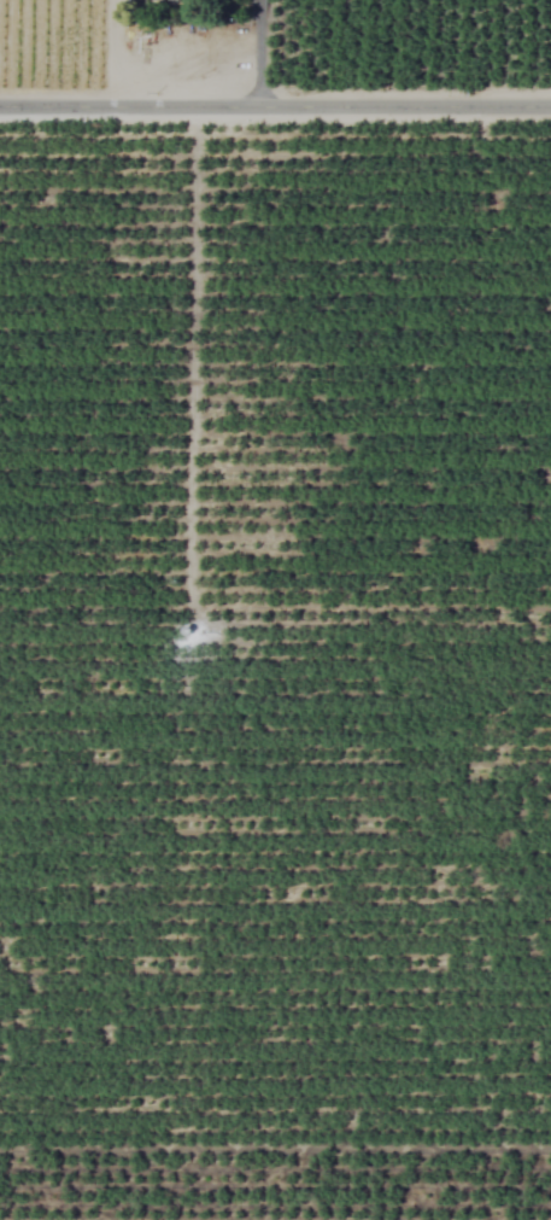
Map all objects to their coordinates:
road: (257, 52)
road: (275, 104)
crop: (275, 609)

